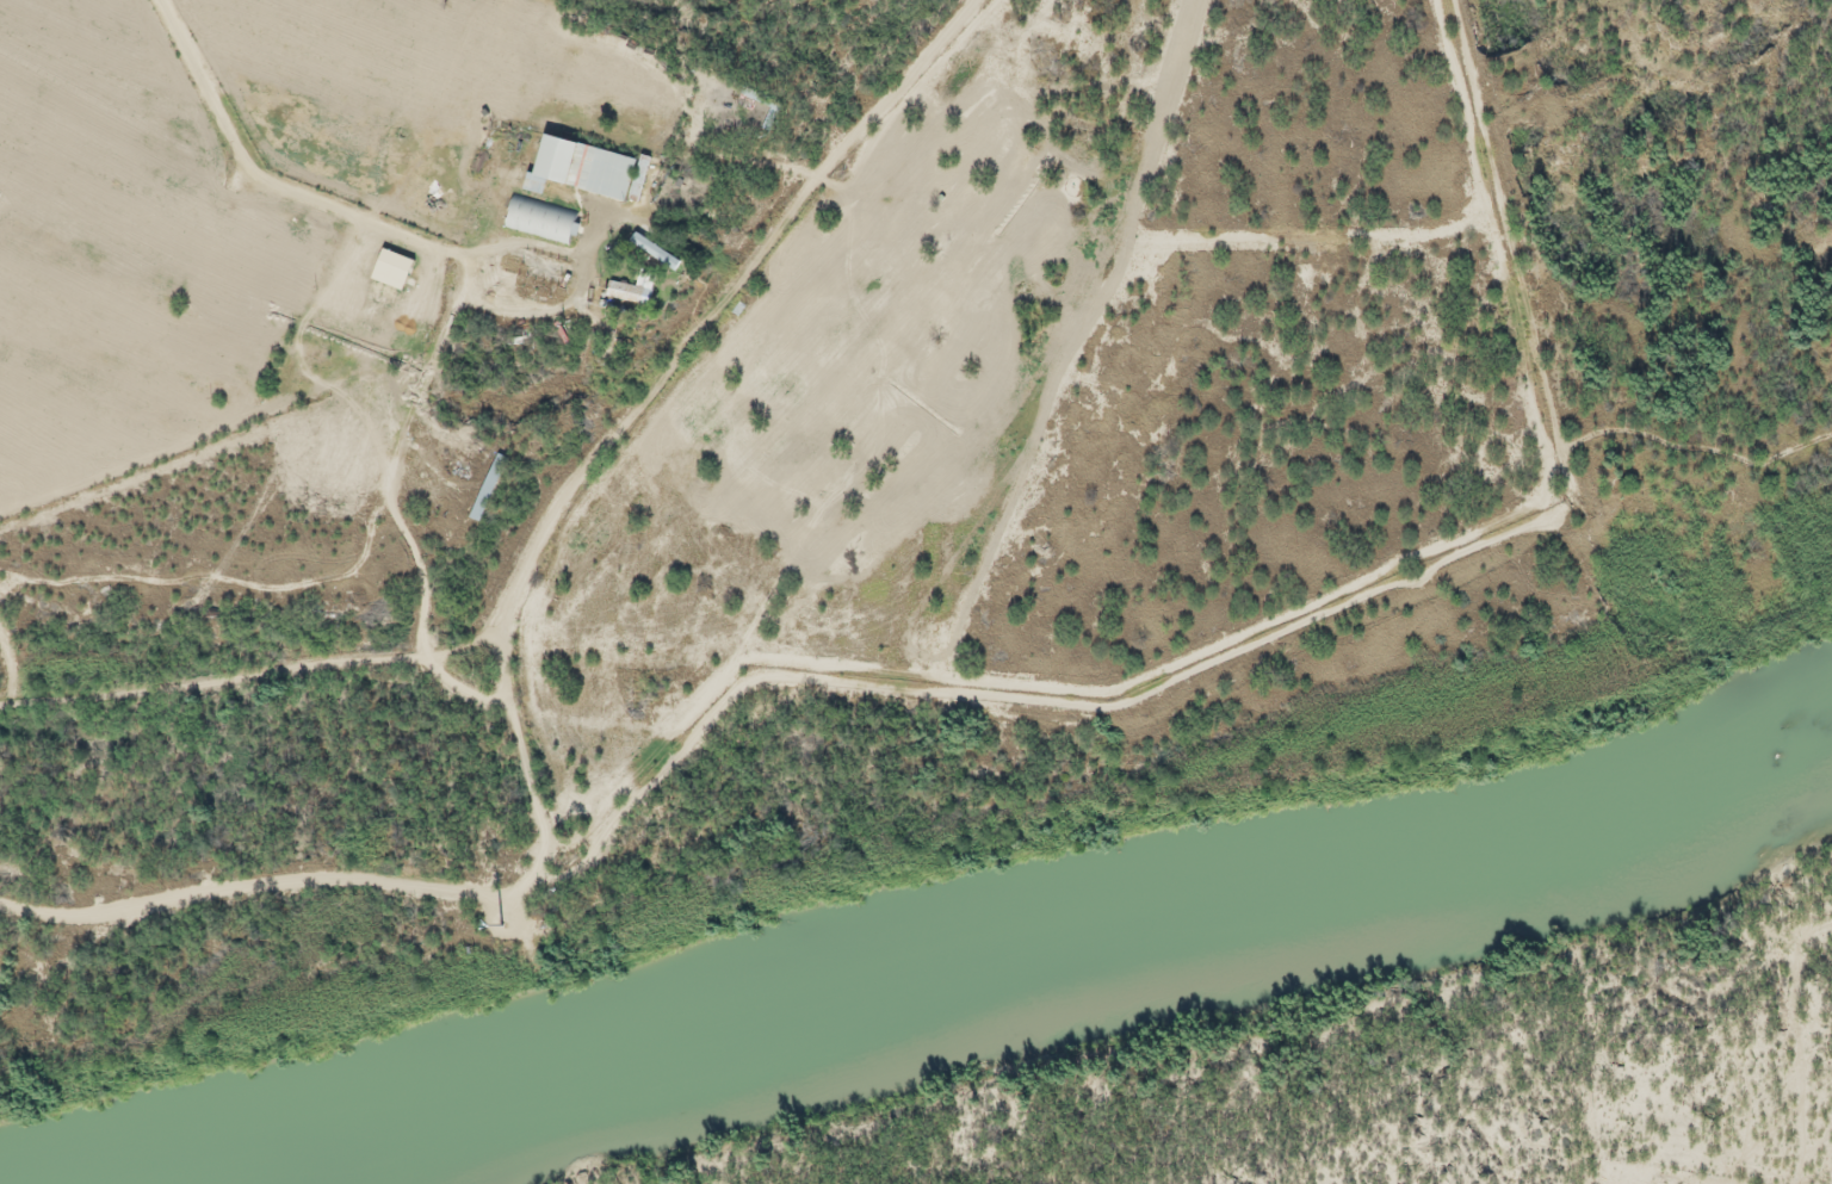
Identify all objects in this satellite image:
building: (551, 157)
building: (541, 219)
building: (656, 248)
building: (395, 265)
building: (625, 287)
river: (995, 980)

